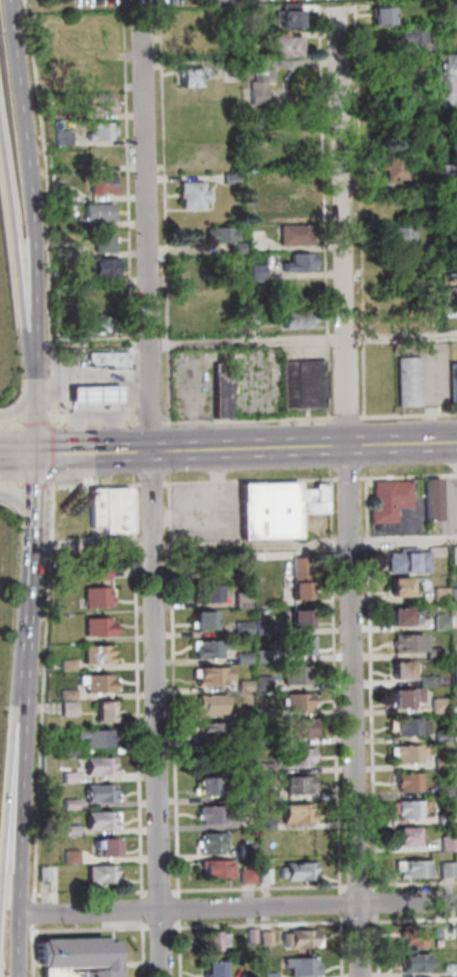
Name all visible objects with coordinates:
road: (316, 8)
road: (339, 8)
building: (374, 15)
road: (121, 17)
building: (279, 18)
building: (404, 35)
road: (140, 38)
building: (278, 45)
building: (408, 63)
building: (180, 76)
building: (441, 78)
building: (249, 79)
building: (89, 101)
building: (89, 131)
building: (50, 137)
building: (253, 148)
building: (385, 163)
building: (441, 171)
road: (332, 173)
building: (456, 174)
building: (244, 176)
building: (221, 177)
building: (91, 183)
building: (414, 184)
building: (183, 193)
road: (20, 199)
building: (253, 204)
road: (36, 211)
building: (88, 212)
road: (351, 213)
road: (313, 214)
road: (154, 218)
road: (116, 222)
building: (211, 234)
building: (285, 234)
building: (390, 234)
building: (246, 239)
building: (92, 240)
building: (226, 246)
building: (290, 261)
building: (94, 266)
building: (247, 270)
building: (218, 289)
building: (450, 294)
building: (94, 297)
road: (16, 308)
building: (252, 316)
building: (295, 317)
building: (94, 325)
road: (300, 338)
building: (103, 360)
building: (408, 381)
building: (453, 382)
building: (91, 385)
building: (301, 385)
road: (344, 391)
building: (220, 392)
road: (107, 394)
road: (120, 394)
road: (74, 395)
road: (91, 395)
road: (15, 406)
road: (82, 412)
road: (410, 414)
road: (344, 418)
road: (244, 420)
road: (30, 422)
road: (91, 422)
road: (146, 423)
road: (7, 425)
road: (28, 425)
road: (68, 433)
road: (401, 444)
road: (187, 450)
road: (47, 453)
road: (14, 456)
traffic signals: (29, 456)
road: (407, 477)
road: (346, 479)
road: (249, 481)
road: (6, 482)
road: (30, 484)
road: (150, 484)
road: (93, 485)
road: (149, 493)
building: (432, 499)
road: (28, 500)
building: (388, 502)
road: (17, 505)
building: (94, 507)
building: (277, 508)
building: (115, 510)
road: (241, 546)
building: (454, 554)
building: (409, 561)
road: (24, 568)
building: (101, 573)
building: (301, 577)
building: (401, 585)
building: (210, 593)
building: (441, 594)
building: (453, 594)
building: (97, 596)
building: (406, 615)
building: (296, 617)
building: (203, 619)
building: (442, 623)
building: (98, 626)
building: (262, 627)
building: (244, 628)
road: (23, 634)
building: (410, 643)
building: (301, 645)
building: (206, 647)
building: (434, 652)
building: (97, 653)
building: (245, 658)
building: (67, 665)
building: (404, 668)
building: (456, 671)
building: (295, 673)
building: (211, 676)
building: (428, 680)
building: (95, 682)
building: (244, 686)
road: (336, 686)
road: (371, 686)
road: (174, 689)
road: (137, 691)
road: (41, 692)
building: (408, 697)
building: (299, 700)
building: (211, 705)
building: (441, 705)
building: (106, 711)
road: (354, 711)
building: (247, 713)
building: (411, 726)
building: (301, 728)
building: (211, 730)
building: (445, 736)
building: (97, 738)
building: (247, 740)
building: (71, 751)
building: (410, 753)
building: (302, 757)
building: (444, 763)
building: (97, 764)
building: (72, 776)
building: (411, 781)
building: (206, 785)
building: (301, 785)
building: (446, 788)
building: (100, 792)
road: (22, 795)
building: (269, 795)
road: (9, 797)
building: (72, 804)
building: (413, 809)
building: (298, 813)
building: (214, 815)
building: (447, 818)
building: (104, 819)
building: (267, 823)
building: (72, 830)
building: (409, 835)
building: (450, 843)
building: (216, 845)
building: (108, 847)
building: (250, 852)
building: (74, 856)
building: (218, 868)
building: (415, 869)
building: (450, 869)
building: (298, 871)
building: (47, 874)
building: (104, 874)
building: (268, 877)
road: (413, 883)
road: (360, 886)
road: (264, 887)
road: (177, 890)
road: (159, 891)
road: (343, 904)
road: (379, 904)
road: (239, 907)
road: (181, 908)
road: (144, 909)
road: (34, 912)
road: (415, 919)
road: (362, 921)
road: (262, 924)
road: (163, 927)
road: (93, 929)
building: (254, 936)
building: (415, 937)
building: (269, 938)
building: (304, 938)
building: (216, 940)
road: (22, 945)
road: (343, 946)
road: (380, 946)
road: (181, 948)
road: (145, 949)
road: (35, 951)
building: (80, 957)
building: (417, 962)
building: (305, 966)
building: (217, 968)
building: (272, 974)
building: (250, 975)

